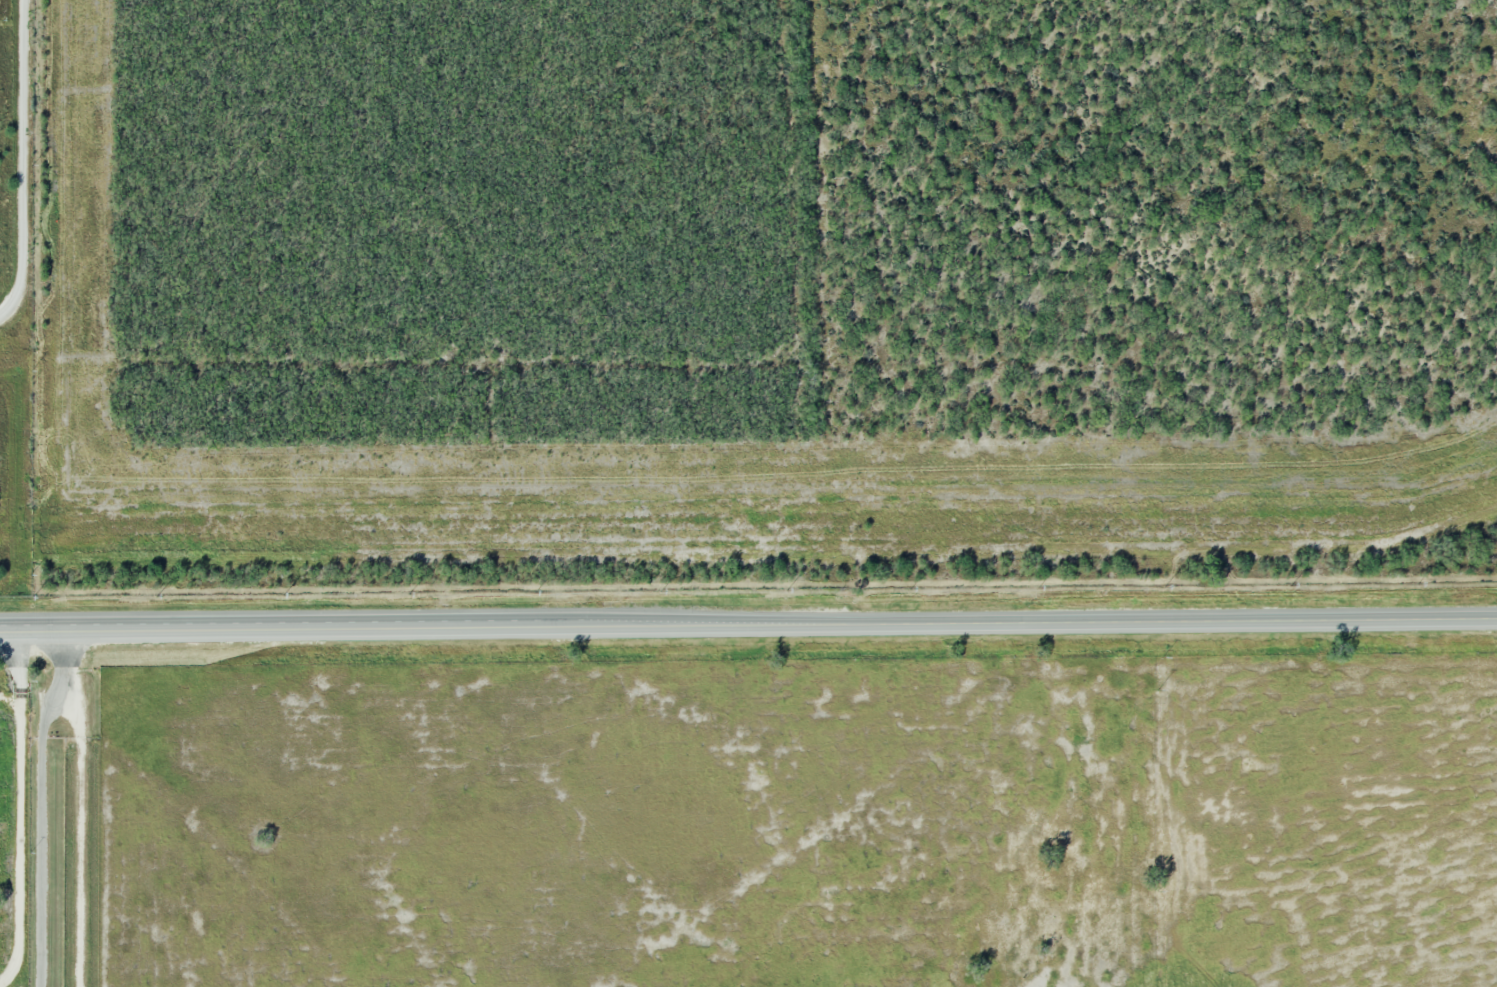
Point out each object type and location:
road: (21, 162)
road: (748, 627)
road: (40, 808)

